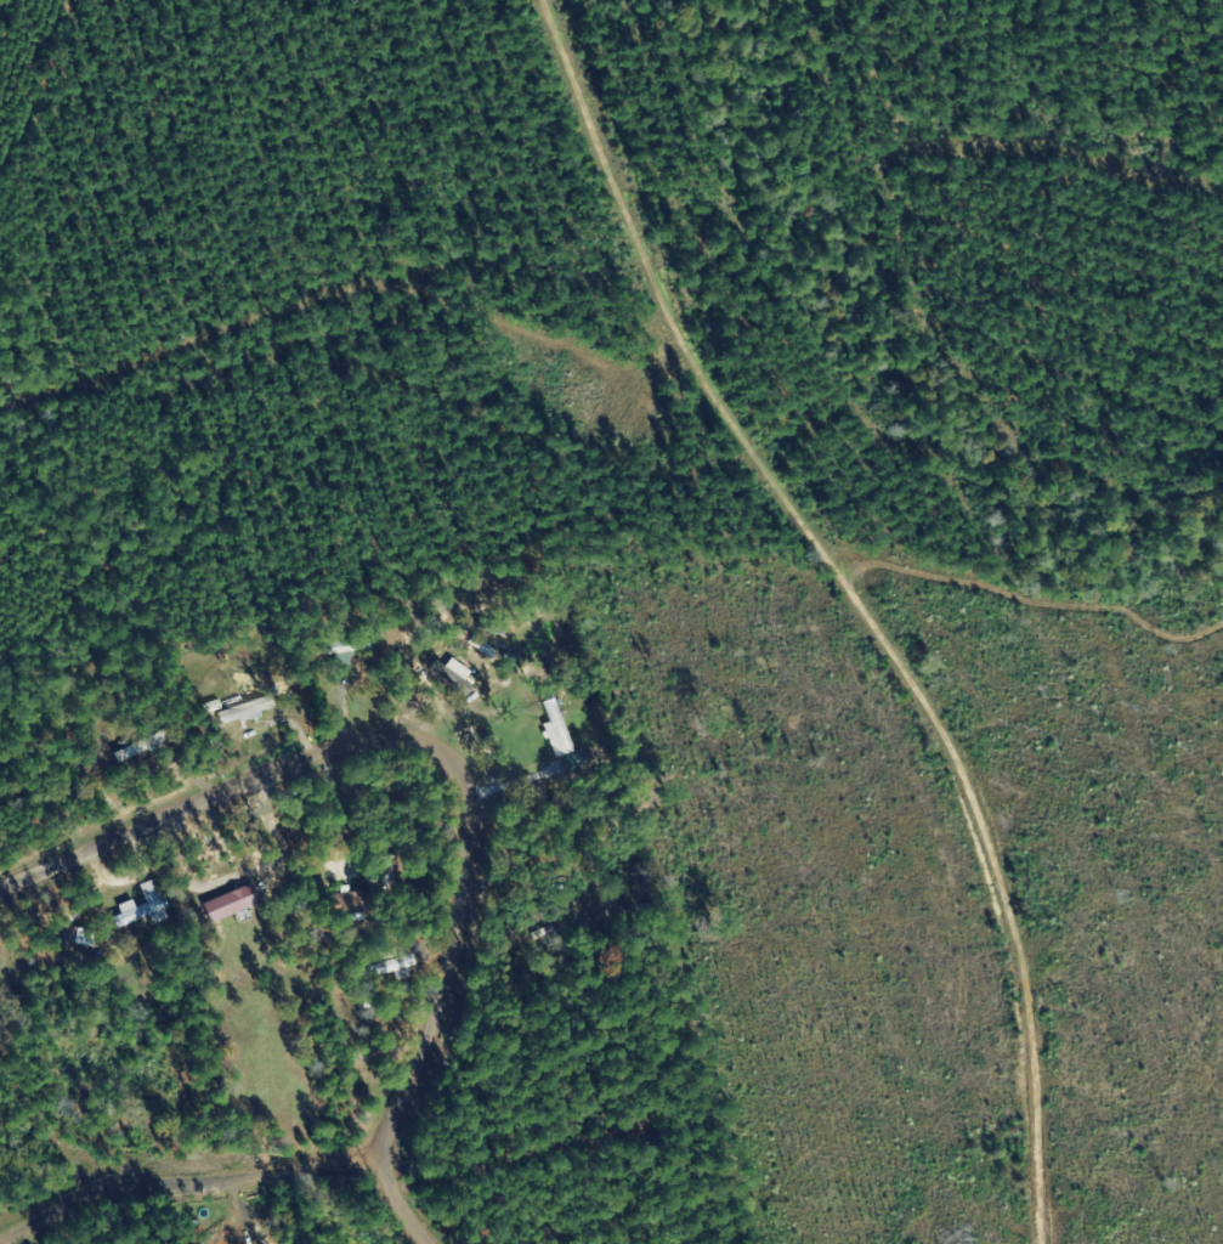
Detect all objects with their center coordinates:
building: (485, 648)
building: (455, 675)
building: (557, 730)
building: (577, 762)
road: (412, 782)
building: (232, 904)
building: (145, 907)
building: (70, 935)
road: (191, 1171)
road: (408, 1210)

